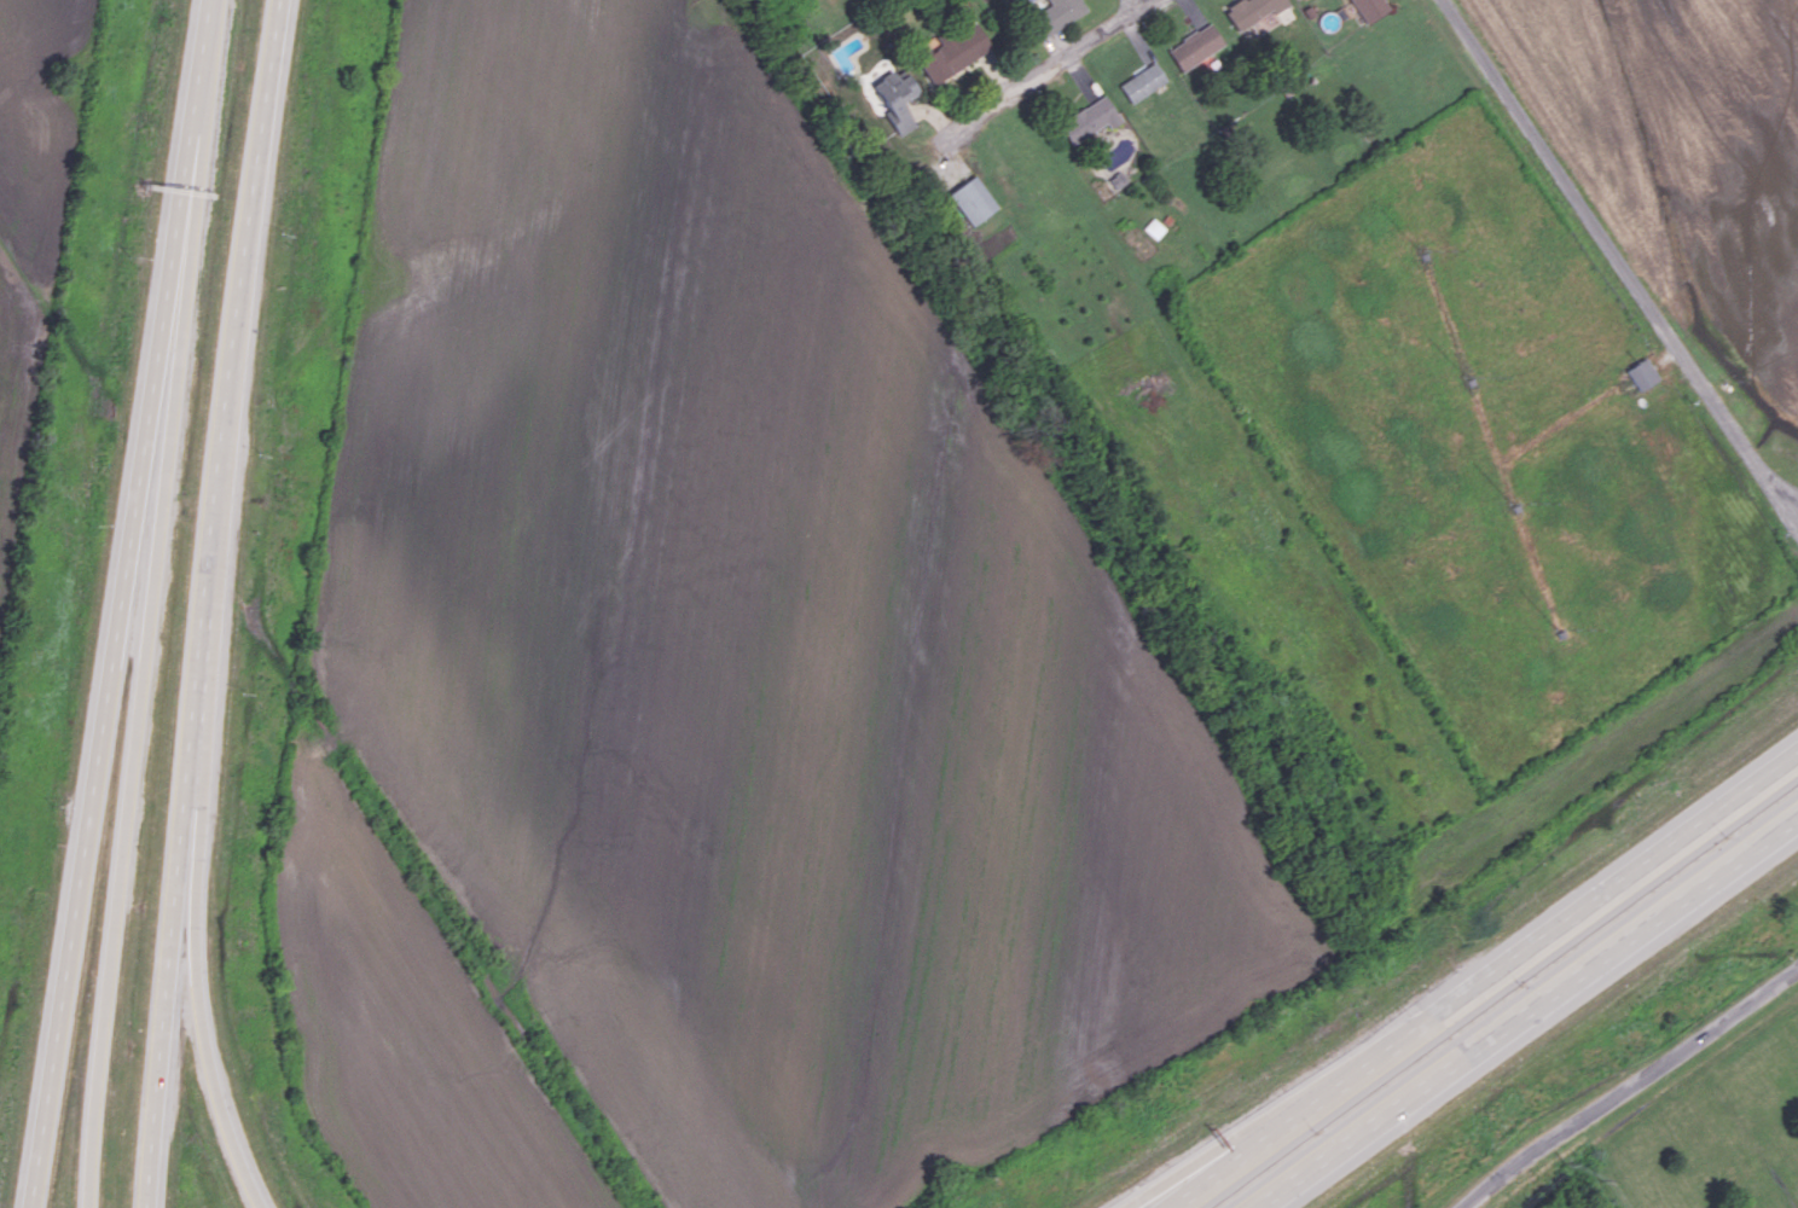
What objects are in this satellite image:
road: (1139, 2)
building: (1370, 8)
building: (1252, 11)
building: (1058, 13)
building: (1195, 46)
building: (951, 52)
road: (1049, 72)
building: (1142, 81)
building: (895, 98)
building: (1089, 120)
building: (973, 199)
crop: (33, 219)
building: (1154, 228)
road: (1619, 259)
building: (1642, 373)
road: (127, 603)
road: (203, 603)
crop: (712, 681)
road: (201, 803)
road: (1477, 975)
road: (92, 1004)
road: (1533, 1017)
road: (1629, 1085)

